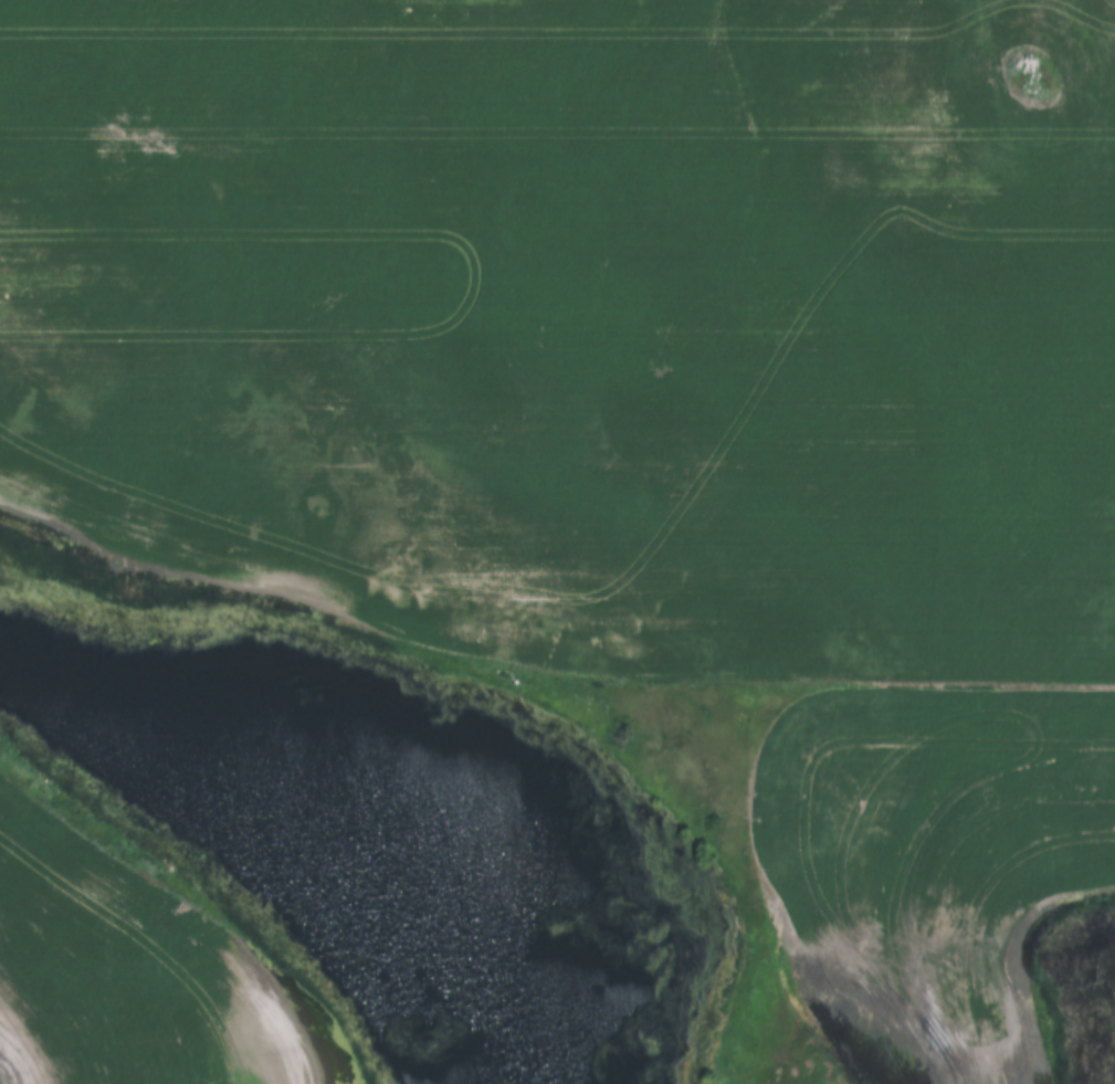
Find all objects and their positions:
crop: (579, 308)

